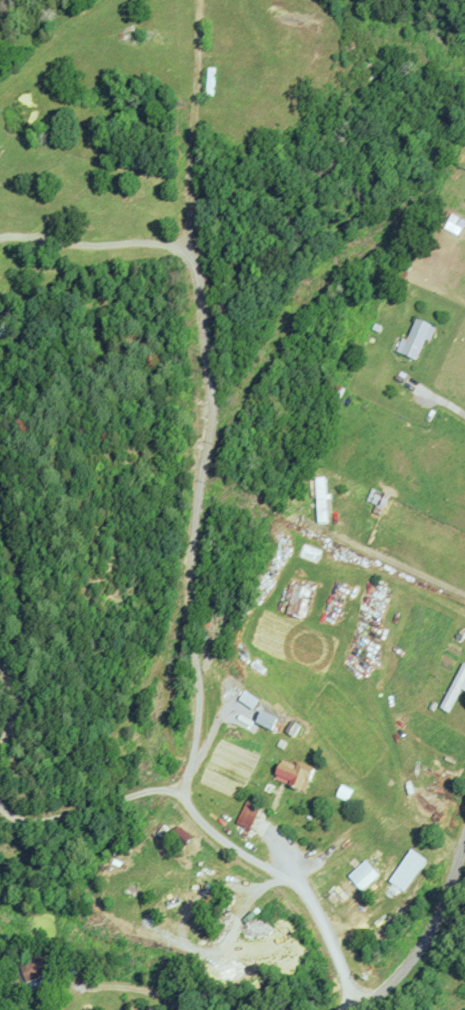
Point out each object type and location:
building: (464, 114)
building: (457, 223)
road: (94, 244)
building: (416, 339)
road: (195, 539)
building: (298, 602)
building: (454, 690)
road: (12, 700)
building: (266, 720)
building: (295, 773)
road: (92, 806)
building: (247, 815)
building: (357, 879)
road: (426, 940)
building: (36, 969)
building: (67, 1004)

